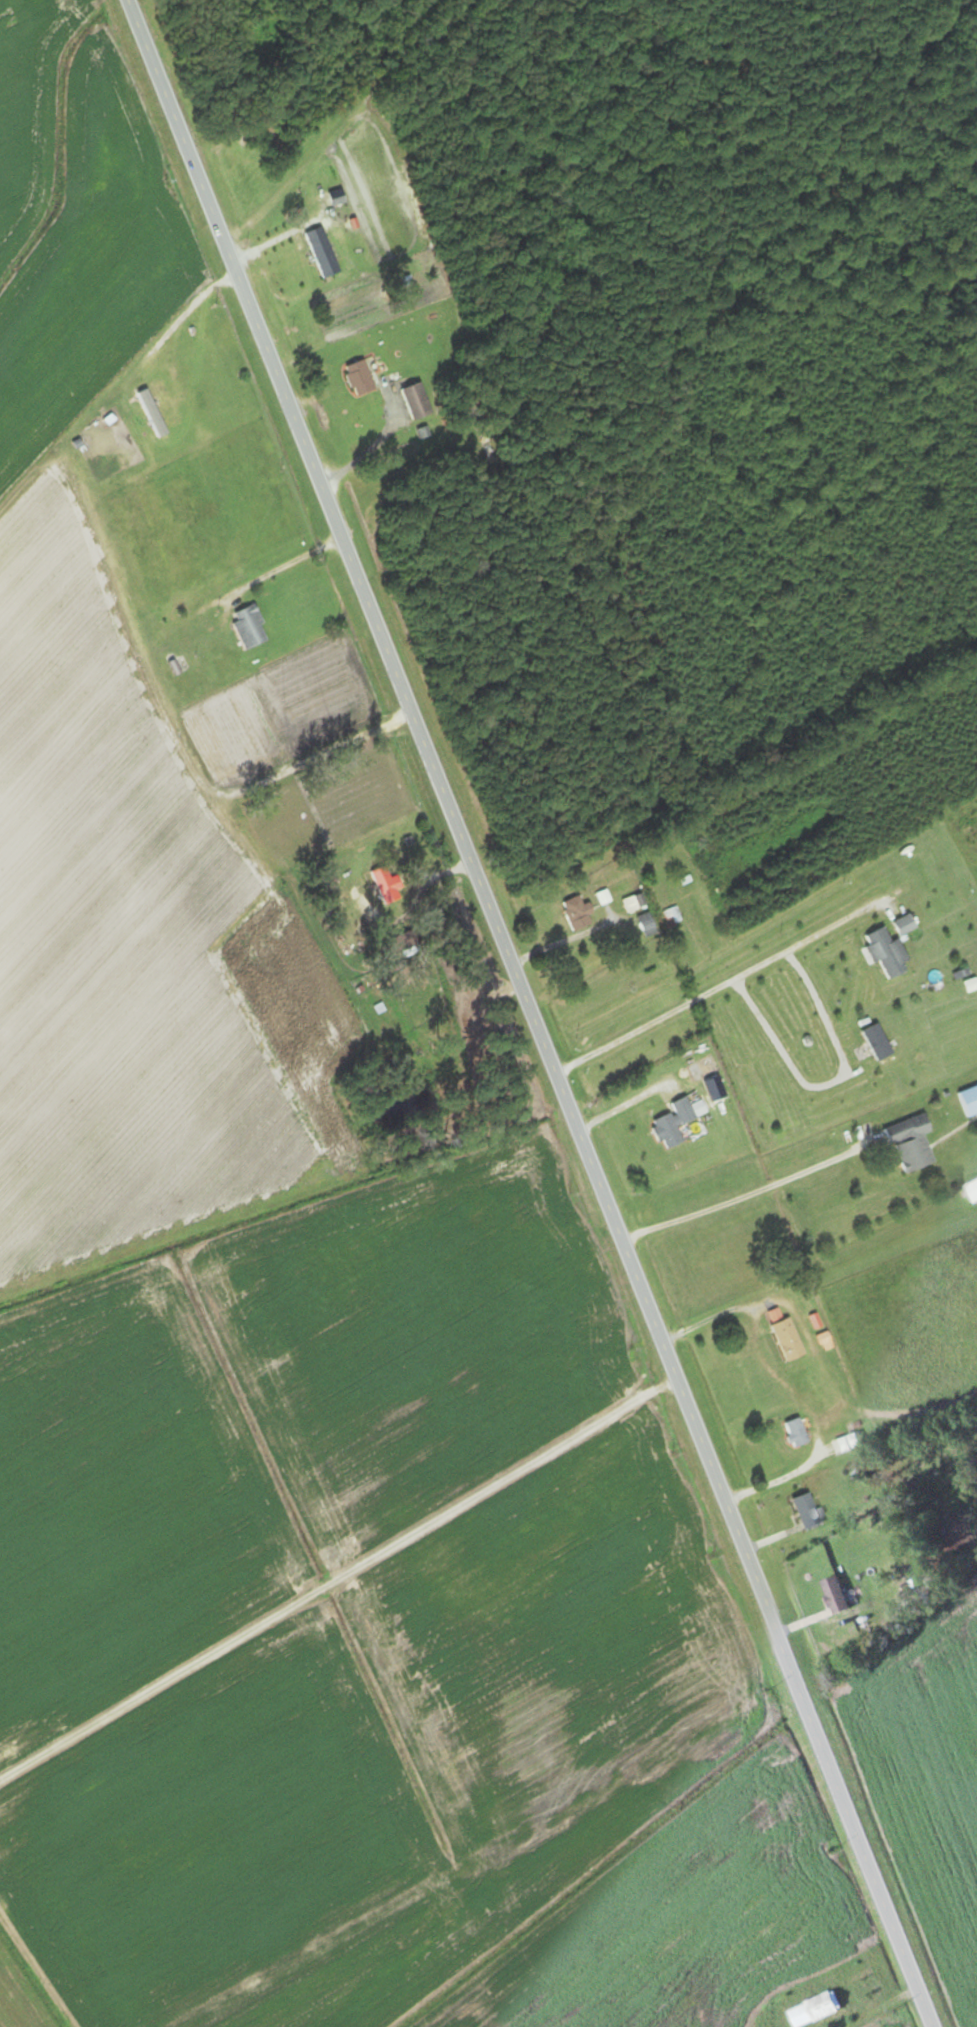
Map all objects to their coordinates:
road: (372, 120)
building: (320, 254)
building: (357, 380)
building: (414, 404)
building: (162, 407)
building: (247, 629)
building: (384, 885)
building: (631, 904)
building: (575, 914)
building: (671, 917)
building: (644, 926)
building: (902, 926)
building: (885, 953)
road: (725, 983)
road: (536, 1020)
building: (701, 1070)
building: (968, 1102)
building: (671, 1124)
building: (908, 1144)
building: (973, 1191)
road: (745, 1194)
building: (785, 1340)
building: (794, 1434)
building: (802, 1510)
building: (836, 1596)
road: (349, 1605)
building: (825, 2007)

